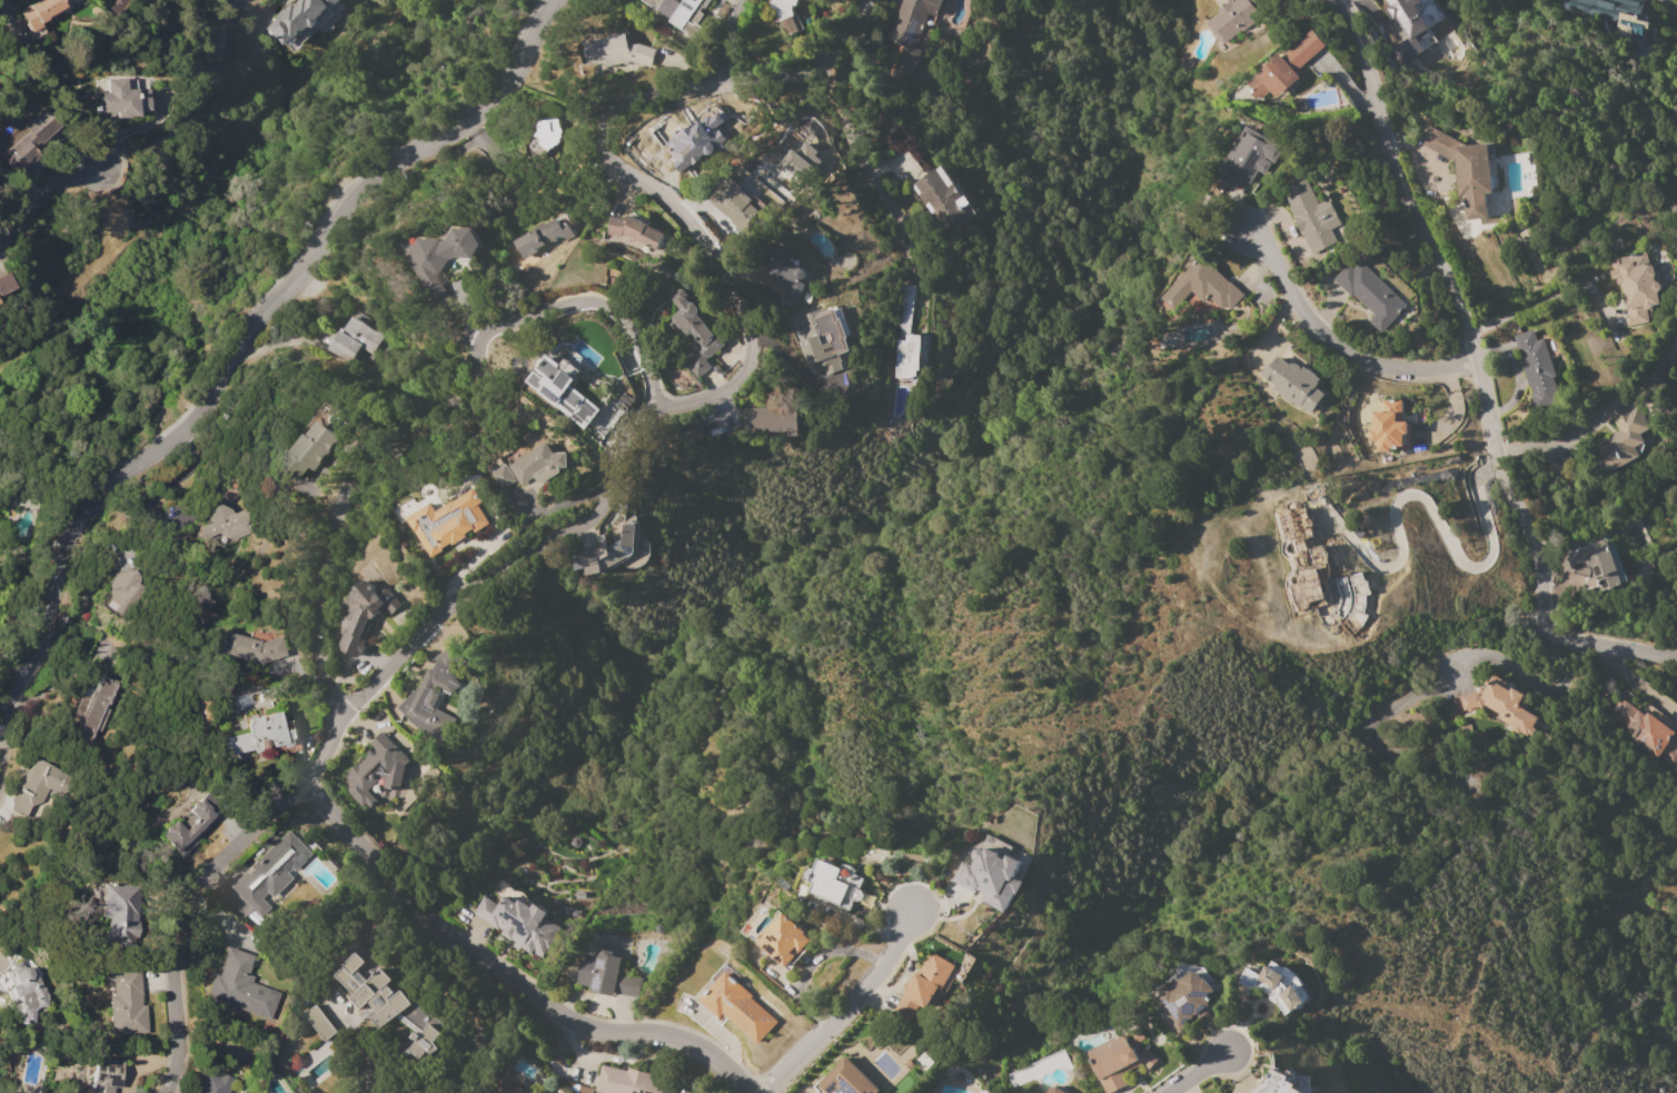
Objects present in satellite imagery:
building: (1591, 8)
building: (40, 12)
building: (681, 13)
building: (786, 14)
building: (298, 18)
building: (1233, 18)
building: (1409, 23)
building: (1630, 29)
building: (910, 30)
road: (845, 31)
building: (1422, 39)
road: (731, 43)
building: (616, 52)
building: (1284, 68)
building: (123, 99)
road: (200, 102)
building: (547, 133)
building: (31, 137)
building: (698, 139)
building: (664, 148)
building: (1251, 155)
road: (854, 156)
building: (1465, 170)
road: (44, 192)
building: (945, 201)
building: (732, 203)
building: (1311, 217)
building: (635, 231)
building: (547, 235)
building: (441, 260)
building: (784, 275)
building: (6, 284)
building: (1203, 287)
building: (1635, 287)
building: (1370, 294)
road: (1545, 295)
building: (0, 301)
building: (694, 334)
road: (248, 335)
building: (905, 335)
building: (823, 339)
building: (353, 340)
road: (1344, 349)
building: (1536, 369)
road: (1479, 370)
road: (1515, 371)
building: (1293, 384)
building: (553, 387)
road: (1600, 415)
building: (770, 419)
building: (1388, 426)
road: (448, 431)
building: (1620, 440)
building: (309, 450)
building: (537, 465)
building: (502, 477)
road: (592, 516)
building: (226, 523)
building: (447, 523)
road: (1440, 533)
building: (609, 553)
building: (1591, 565)
building: (358, 618)
building: (252, 647)
road: (1635, 685)
building: (433, 695)
building: (1499, 705)
building: (97, 707)
building: (1646, 732)
building: (264, 734)
building: (378, 774)
building: (38, 785)
building: (191, 825)
building: (270, 873)
building: (990, 877)
building: (835, 884)
building: (122, 913)
building: (519, 920)
building: (784, 941)
building: (607, 975)
road: (502, 981)
building: (1277, 985)
building: (244, 986)
building: (923, 986)
building: (24, 992)
building: (1187, 998)
building: (127, 1000)
building: (390, 1004)
road: (846, 1006)
building: (737, 1008)
building: (320, 1022)
building: (1120, 1060)
road: (366, 1065)
road: (1197, 1072)
building: (107, 1075)
building: (846, 1080)
building: (216, 1082)
building: (629, 1082)
building: (1277, 1084)
building: (1054, 1090)
building: (516, 1091)
building: (528, 1092)

